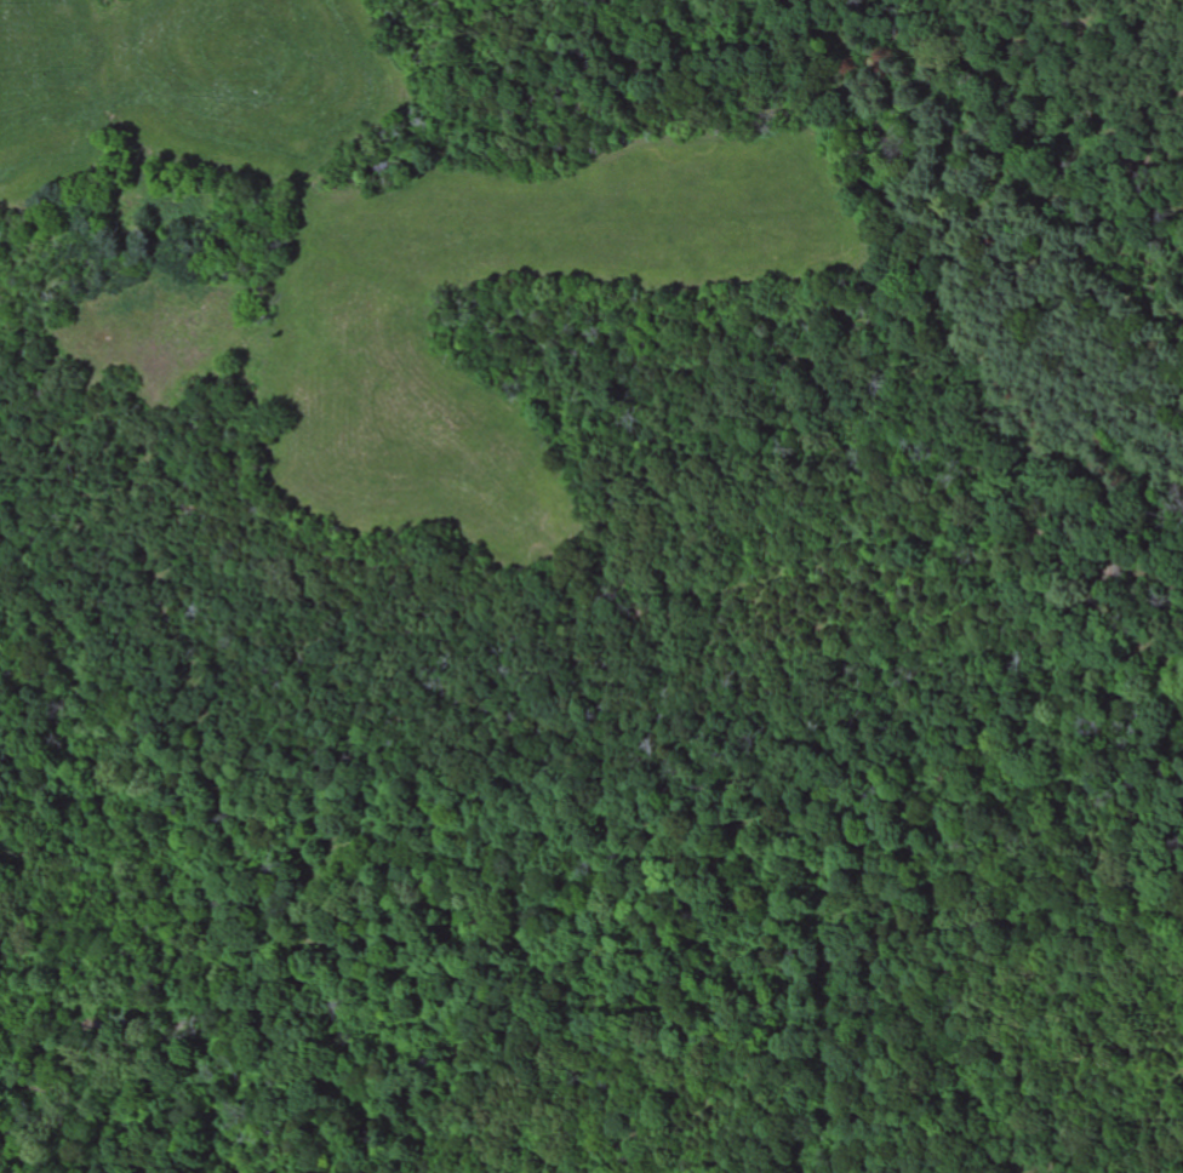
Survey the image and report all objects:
road: (108, 38)

